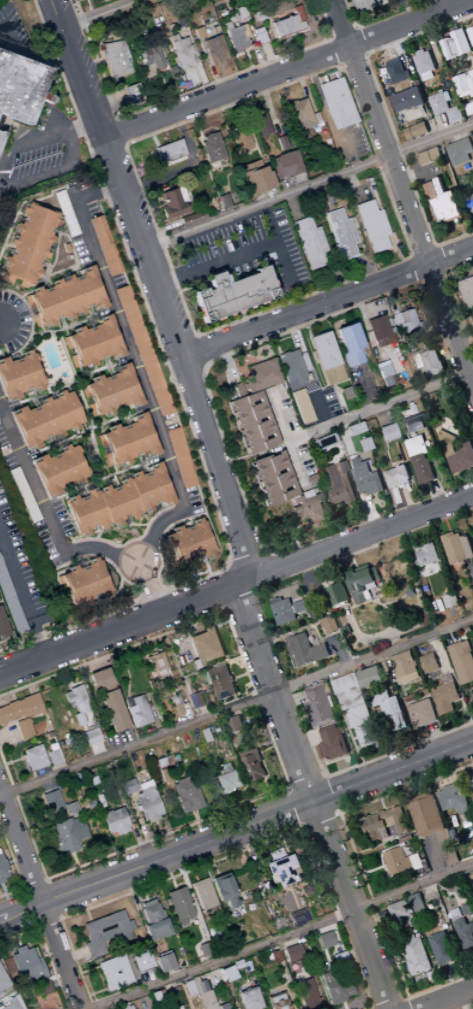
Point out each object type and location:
road: (76, 0)
building: (257, 0)
building: (99, 1)
road: (49, 3)
road: (51, 3)
building: (366, 4)
road: (420, 4)
road: (352, 5)
road: (356, 5)
road: (409, 11)
building: (240, 12)
road: (100, 14)
road: (350, 14)
road: (450, 23)
building: (285, 25)
road: (454, 26)
building: (198, 32)
road: (467, 33)
road: (343, 34)
building: (471, 34)
building: (259, 35)
road: (415, 37)
building: (235, 38)
road: (330, 38)
road: (360, 41)
road: (432, 43)
road: (398, 45)
building: (455, 45)
road: (244, 49)
building: (215, 50)
road: (335, 51)
building: (180, 52)
road: (389, 53)
road: (367, 55)
road: (35, 57)
building: (115, 58)
building: (153, 58)
road: (247, 58)
road: (353, 58)
road: (268, 60)
road: (385, 61)
building: (424, 61)
road: (471, 64)
road: (340, 65)
road: (472, 65)
road: (209, 67)
road: (288, 70)
building: (397, 71)
road: (196, 76)
building: (464, 84)
building: (19, 88)
road: (303, 90)
road: (184, 92)
building: (133, 93)
building: (408, 99)
road: (107, 100)
road: (320, 102)
building: (336, 103)
building: (439, 103)
road: (467, 103)
road: (266, 106)
building: (469, 108)
building: (299, 114)
building: (455, 114)
road: (114, 116)
building: (315, 120)
road: (96, 124)
building: (260, 124)
road: (175, 125)
road: (443, 125)
road: (50, 126)
building: (416, 131)
road: (118, 132)
road: (53, 136)
building: (1, 137)
building: (240, 140)
road: (153, 141)
building: (281, 143)
building: (211, 147)
road: (347, 149)
building: (168, 151)
road: (401, 151)
road: (107, 152)
building: (460, 152)
building: (435, 154)
road: (2, 158)
building: (424, 158)
building: (285, 165)
road: (184, 171)
road: (51, 172)
road: (418, 175)
building: (255, 177)
building: (472, 178)
road: (306, 185)
building: (466, 189)
road: (96, 191)
road: (401, 193)
building: (179, 194)
building: (223, 201)
building: (444, 202)
building: (469, 203)
building: (170, 204)
building: (64, 213)
building: (191, 220)
building: (372, 226)
road: (463, 232)
building: (341, 234)
road: (275, 241)
building: (310, 242)
building: (27, 244)
building: (105, 245)
road: (215, 263)
road: (364, 272)
road: (340, 281)
building: (468, 292)
road: (159, 294)
building: (231, 294)
building: (65, 297)
road: (389, 297)
road: (453, 299)
road: (327, 301)
road: (358, 313)
road: (240, 314)
road: (17, 323)
building: (407, 325)
building: (377, 327)
building: (390, 329)
road: (193, 335)
road: (291, 335)
building: (347, 338)
building: (369, 340)
road: (465, 341)
building: (93, 343)
road: (176, 343)
building: (143, 350)
road: (196, 352)
building: (277, 357)
building: (352, 358)
building: (326, 359)
building: (303, 361)
building: (431, 362)
road: (225, 363)
building: (420, 364)
building: (381, 366)
building: (416, 367)
road: (202, 368)
building: (291, 368)
road: (136, 372)
road: (186, 373)
building: (383, 373)
building: (260, 376)
building: (18, 377)
building: (386, 382)
road: (205, 388)
road: (359, 389)
building: (237, 390)
building: (110, 392)
building: (345, 394)
road: (177, 395)
building: (325, 404)
road: (316, 406)
road: (378, 406)
building: (301, 407)
building: (44, 420)
building: (252, 423)
building: (413, 424)
building: (353, 429)
building: (387, 433)
road: (281, 437)
building: (127, 441)
building: (322, 441)
building: (447, 442)
building: (361, 445)
building: (416, 446)
building: (180, 458)
road: (237, 458)
building: (461, 459)
building: (422, 469)
building: (57, 471)
building: (365, 477)
building: (398, 477)
building: (272, 478)
building: (312, 479)
building: (338, 485)
building: (148, 488)
road: (438, 494)
building: (22, 496)
road: (371, 501)
road: (408, 502)
building: (118, 503)
road: (41, 508)
building: (308, 509)
road: (370, 512)
building: (84, 513)
road: (359, 518)
road: (448, 526)
building: (472, 532)
road: (431, 533)
road: (356, 538)
building: (188, 544)
road: (298, 545)
building: (468, 546)
road: (121, 547)
building: (455, 548)
road: (267, 553)
building: (429, 554)
road: (344, 558)
road: (246, 560)
road: (356, 563)
road: (226, 566)
road: (470, 569)
road: (322, 570)
road: (310, 576)
building: (365, 583)
building: (81, 585)
road: (219, 592)
building: (340, 594)
road: (22, 597)
road: (150, 599)
building: (451, 600)
building: (10, 605)
building: (302, 606)
building: (284, 610)
building: (330, 624)
building: (2, 628)
road: (119, 631)
building: (472, 631)
road: (371, 639)
building: (206, 646)
building: (308, 650)
road: (341, 652)
building: (462, 661)
building: (430, 663)
building: (156, 664)
building: (406, 670)
road: (126, 674)
road: (241, 676)
building: (371, 678)
building: (98, 679)
building: (223, 682)
building: (178, 688)
building: (160, 689)
road: (11, 696)
building: (446, 697)
building: (76, 699)
building: (194, 700)
building: (353, 700)
building: (318, 706)
road: (237, 708)
building: (391, 708)
building: (20, 709)
building: (177, 710)
building: (114, 711)
building: (136, 711)
building: (423, 713)
road: (467, 713)
road: (153, 715)
building: (36, 722)
building: (23, 729)
building: (238, 732)
road: (7, 734)
building: (204, 735)
building: (90, 738)
road: (307, 739)
road: (436, 739)
building: (221, 742)
building: (332, 743)
road: (267, 749)
road: (397, 751)
building: (33, 757)
building: (52, 757)
road: (12, 761)
building: (255, 764)
building: (229, 768)
road: (283, 769)
road: (451, 769)
building: (163, 776)
building: (471, 780)
building: (232, 781)
road: (306, 781)
road: (266, 783)
building: (127, 786)
building: (208, 793)
building: (186, 794)
road: (332, 795)
road: (312, 798)
building: (453, 799)
building: (147, 802)
building: (52, 803)
building: (90, 804)
road: (383, 805)
road: (297, 807)
building: (70, 808)
road: (340, 814)
building: (426, 814)
road: (194, 816)
road: (321, 820)
building: (114, 821)
road: (353, 823)
building: (385, 823)
road: (276, 826)
road: (139, 828)
road: (157, 828)
road: (235, 829)
road: (335, 829)
road: (7, 831)
building: (67, 834)
road: (253, 834)
building: (406, 839)
road: (137, 843)
road: (283, 845)
building: (448, 847)
road: (207, 852)
road: (260, 854)
building: (275, 854)
road: (436, 857)
road: (73, 859)
building: (397, 861)
building: (416, 861)
road: (7, 862)
road: (166, 867)
road: (13, 868)
road: (213, 868)
road: (361, 868)
road: (375, 869)
building: (2, 870)
building: (281, 870)
road: (182, 872)
road: (221, 873)
road: (137, 878)
building: (471, 879)
road: (44, 880)
road: (172, 883)
road: (33, 884)
road: (22, 888)
road: (1, 889)
building: (224, 890)
road: (119, 892)
road: (188, 892)
building: (203, 894)
road: (143, 895)
road: (132, 897)
road: (292, 897)
road: (38, 899)
road: (51, 899)
road: (80, 899)
building: (416, 902)
building: (179, 903)
road: (29, 908)
building: (467, 909)
building: (399, 910)
building: (235, 911)
building: (457, 913)
road: (86, 916)
building: (298, 916)
building: (189, 917)
building: (153, 918)
building: (236, 919)
road: (373, 919)
road: (47, 922)
building: (181, 923)
road: (11, 925)
building: (104, 932)
building: (465, 934)
road: (334, 937)
building: (203, 938)
road: (281, 938)
building: (324, 940)
road: (16, 941)
building: (441, 948)
road: (44, 949)
building: (203, 950)
building: (292, 953)
building: (416, 955)
road: (42, 956)
road: (72, 956)
building: (337, 958)
road: (342, 958)
building: (140, 961)
building: (245, 962)
building: (163, 963)
building: (237, 964)
building: (25, 965)
road: (88, 970)
building: (113, 972)
road: (449, 972)
road: (464, 973)
building: (228, 974)
road: (73, 976)
road: (146, 979)
building: (3, 980)
building: (43, 987)
building: (335, 987)
building: (187, 988)
building: (201, 990)
road: (96, 992)
building: (307, 995)
building: (157, 996)
road: (446, 998)
building: (249, 999)
road: (1, 1000)
road: (142, 1000)
building: (17, 1001)
building: (276, 1001)
road: (465, 1001)
road: (225, 1002)
building: (10, 1004)
building: (211, 1004)
road: (343, 1005)
building: (125, 1007)

